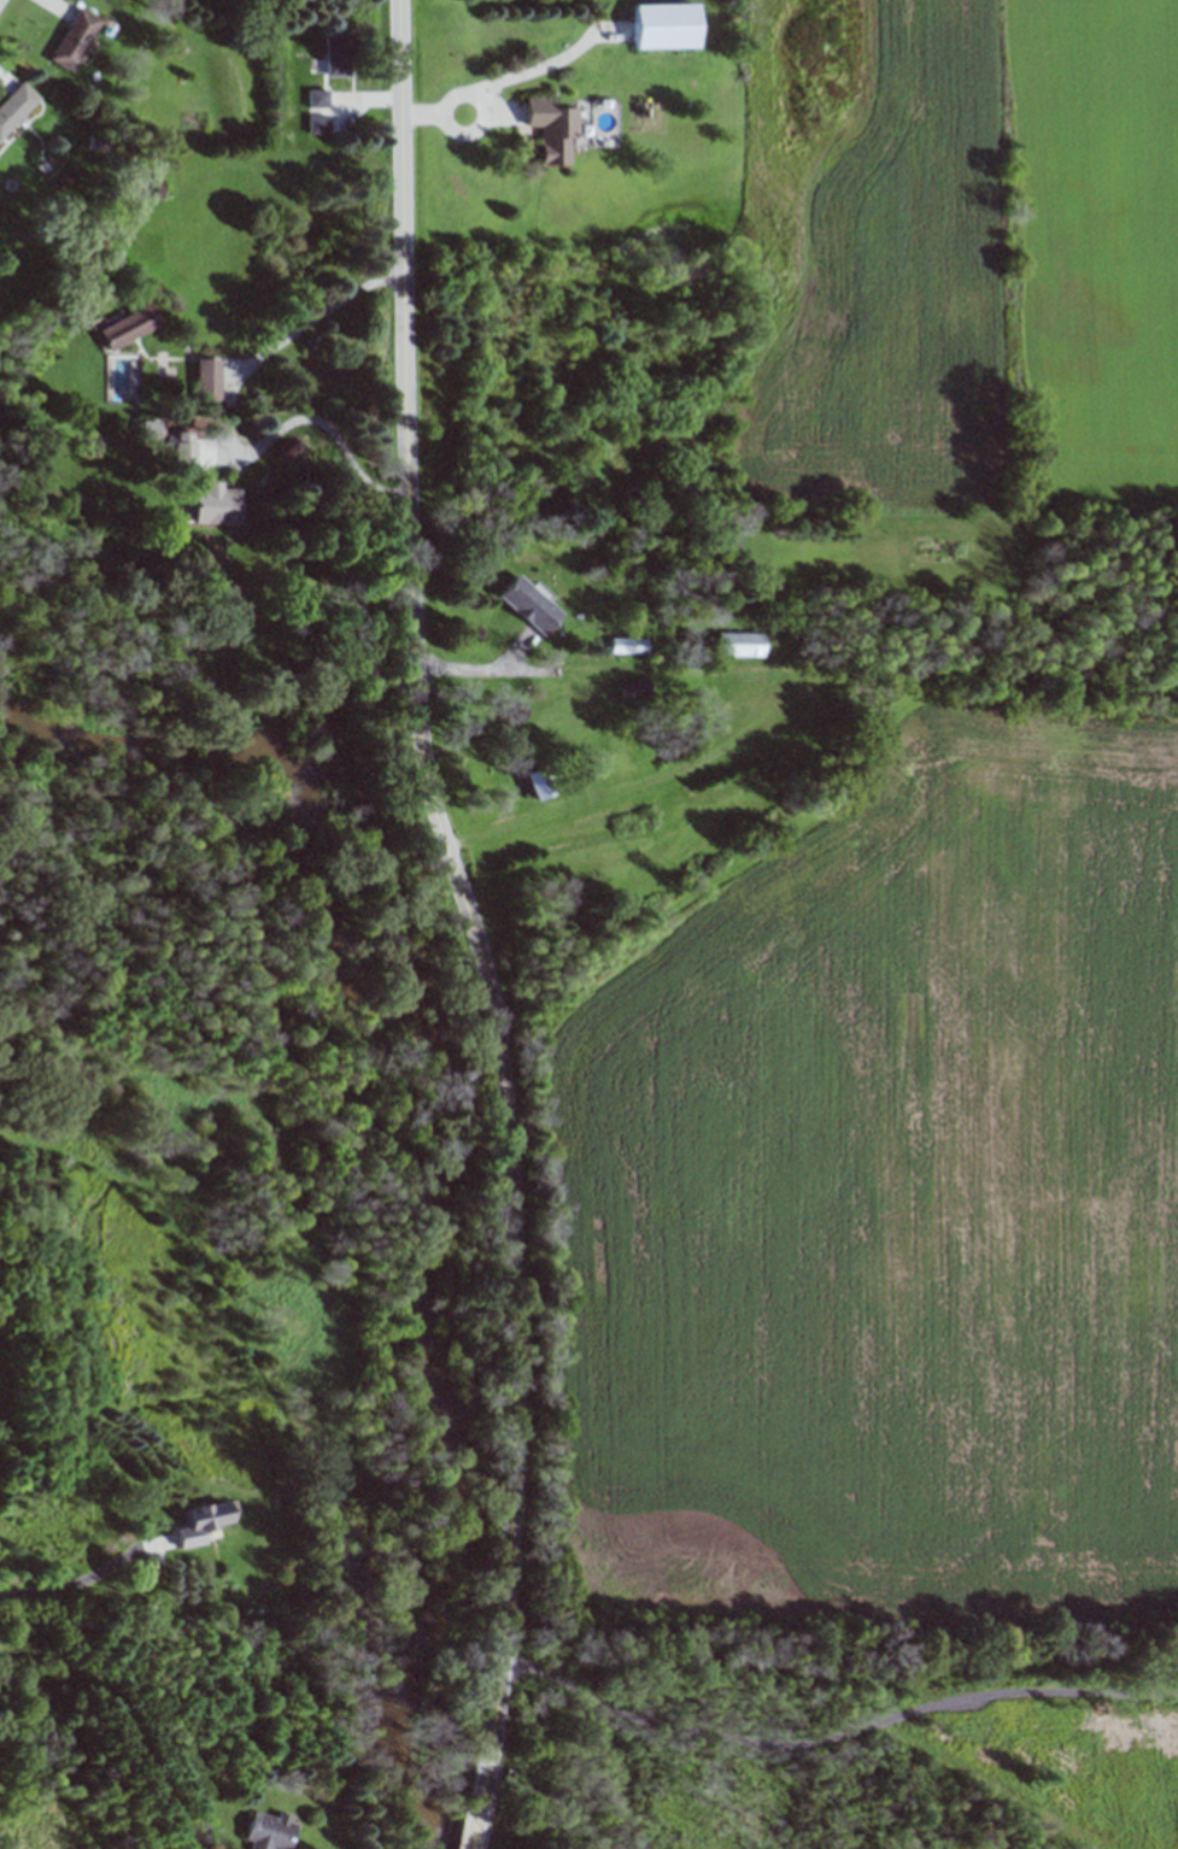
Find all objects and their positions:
building: (666, 25)
building: (75, 39)
building: (339, 55)
building: (320, 98)
building: (16, 106)
building: (321, 123)
building: (555, 130)
crop: (960, 256)
building: (130, 325)
building: (211, 380)
road: (328, 424)
building: (187, 452)
building: (217, 503)
building: (529, 604)
building: (742, 644)
building: (628, 645)
building: (635, 688)
road: (471, 912)
river: (432, 1111)
crop: (874, 1209)
building: (201, 1522)
building: (271, 1829)
road: (473, 1836)

